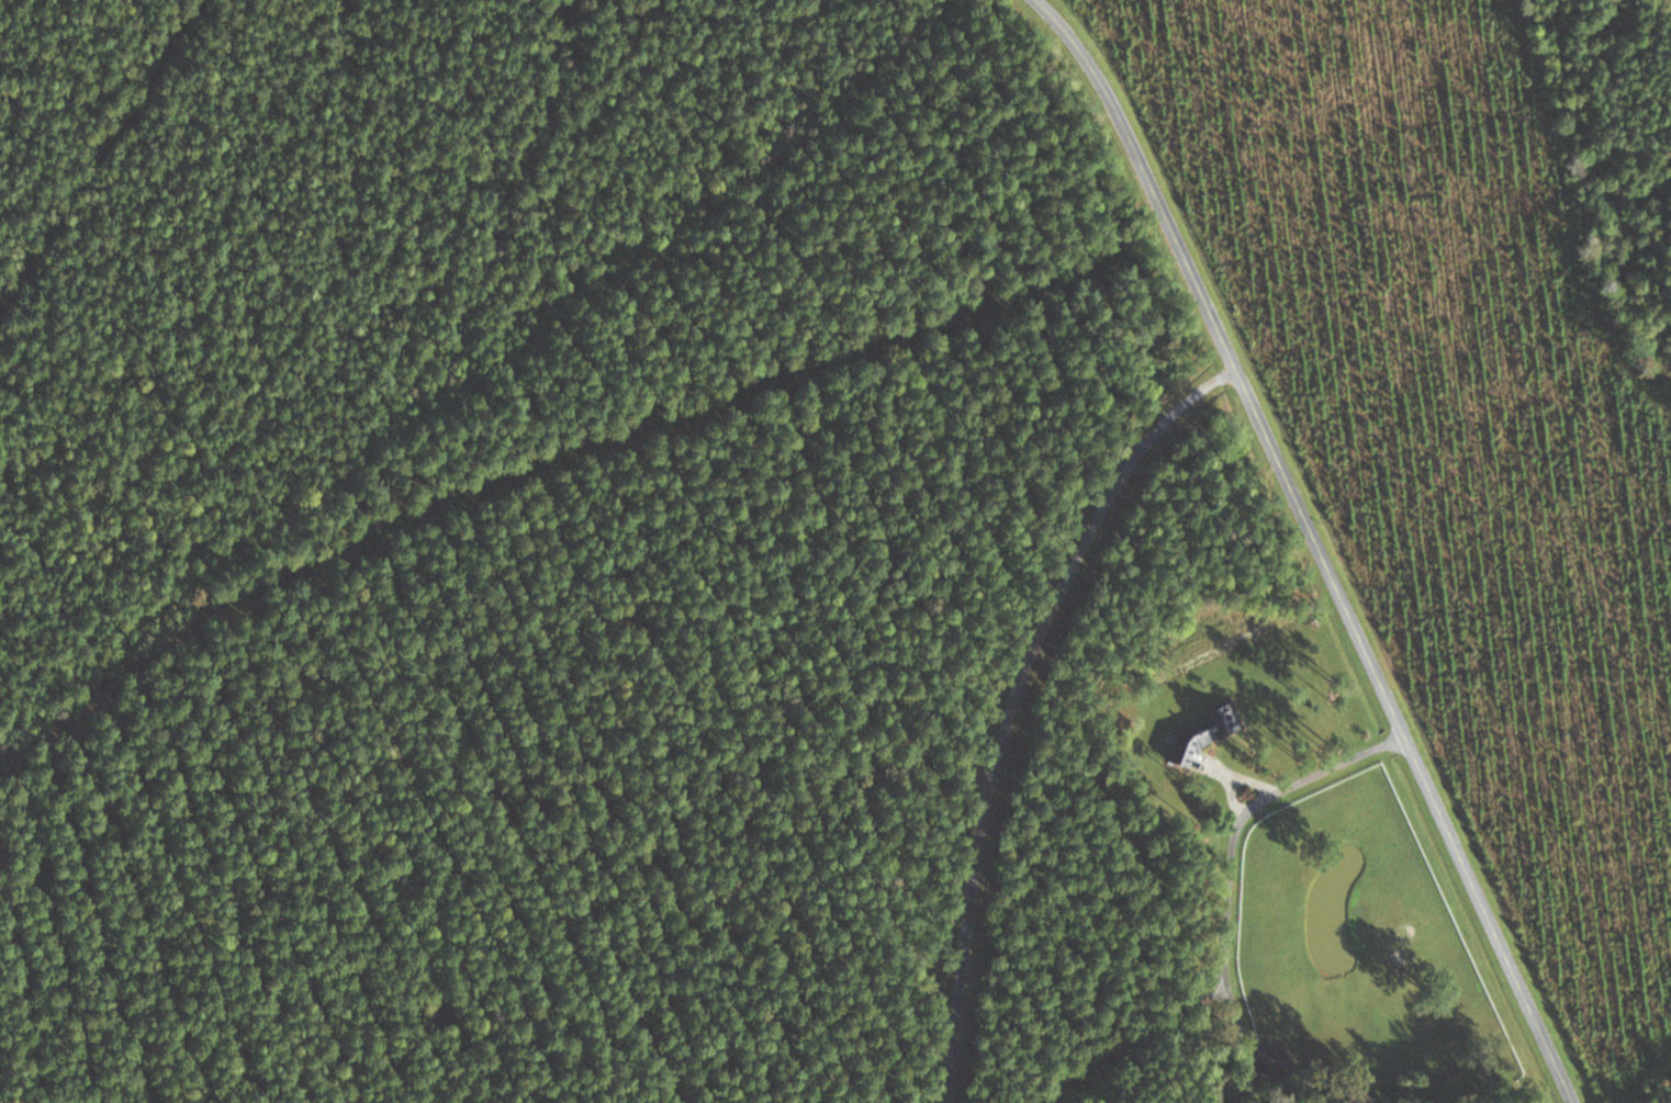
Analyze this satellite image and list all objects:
road: (1314, 544)
building: (1203, 730)
road: (1288, 788)

